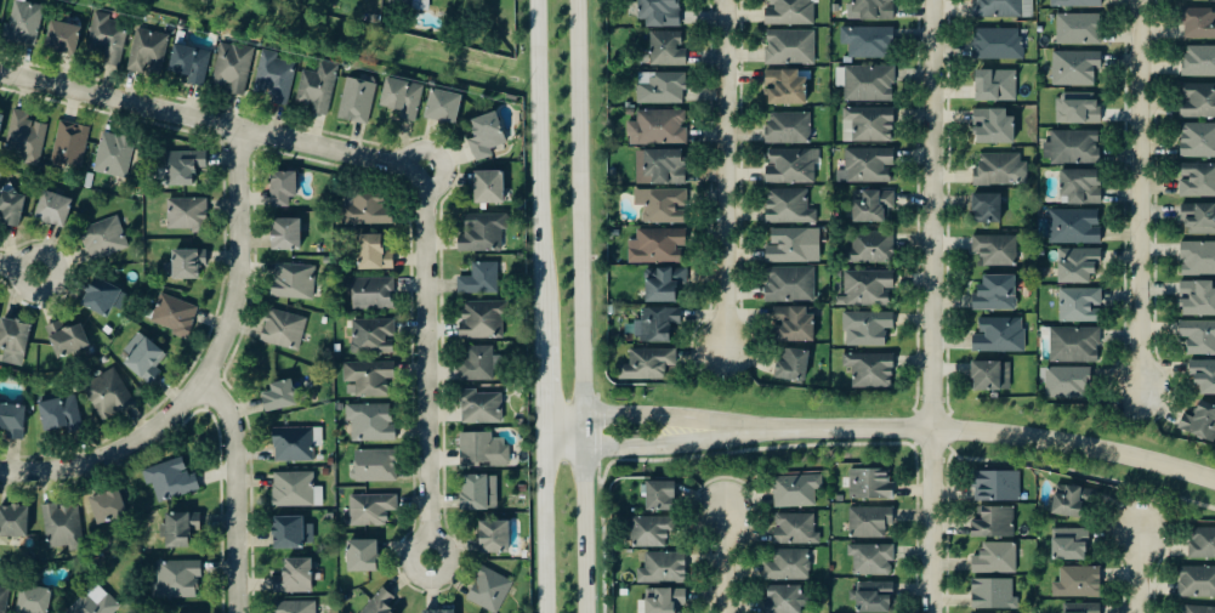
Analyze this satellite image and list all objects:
building: (1196, 0)
building: (1078, 2)
building: (999, 7)
building: (1028, 8)
building: (873, 10)
building: (657, 12)
building: (790, 12)
building: (25, 23)
building: (1198, 23)
building: (1081, 29)
building: (63, 39)
building: (108, 39)
building: (869, 42)
building: (999, 44)
building: (791, 46)
building: (148, 49)
building: (666, 49)
building: (1199, 59)
building: (191, 64)
building: (1078, 67)
building: (234, 68)
building: (276, 78)
building: (869, 84)
building: (995, 85)
building: (663, 87)
building: (784, 87)
building: (317, 89)
building: (402, 98)
building: (357, 101)
building: (1197, 102)
building: (442, 107)
building: (1078, 109)
building: (0, 119)
road: (212, 120)
building: (867, 125)
building: (787, 127)
building: (992, 127)
building: (659, 129)
building: (484, 137)
building: (24, 138)
building: (1196, 141)
building: (69, 146)
building: (1075, 148)
building: (113, 155)
building: (659, 166)
building: (789, 166)
building: (865, 166)
building: (182, 168)
building: (998, 170)
road: (536, 172)
road: (723, 174)
building: (1196, 180)
building: (488, 188)
building: (1080, 188)
building: (282, 189)
road: (1136, 194)
building: (325, 199)
building: (662, 205)
road: (579, 208)
building: (785, 208)
building: (870, 208)
building: (984, 209)
building: (10, 210)
building: (52, 210)
building: (367, 211)
building: (187, 215)
building: (1196, 220)
building: (1073, 227)
building: (482, 233)
building: (285, 234)
building: (103, 239)
building: (794, 246)
building: (868, 246)
building: (657, 248)
building: (992, 251)
building: (373, 255)
building: (1197, 260)
building: (186, 265)
building: (1077, 265)
road: (19, 268)
building: (479, 280)
building: (293, 282)
building: (790, 285)
building: (659, 288)
building: (868, 288)
building: (369, 294)
building: (994, 294)
building: (100, 299)
building: (1196, 300)
road: (933, 306)
building: (1079, 306)
building: (174, 317)
building: (482, 320)
building: (655, 327)
building: (789, 327)
building: (283, 330)
building: (864, 330)
building: (70, 336)
building: (999, 336)
building: (371, 337)
building: (1199, 337)
building: (12, 342)
building: (1075, 345)
building: (142, 359)
road: (427, 364)
building: (478, 364)
building: (648, 364)
road: (209, 367)
building: (789, 367)
building: (868, 371)
building: (986, 379)
building: (1199, 379)
building: (367, 380)
road: (539, 382)
building: (1068, 384)
building: (10, 391)
building: (107, 393)
building: (278, 396)
building: (479, 407)
building: (57, 410)
road: (665, 416)
road: (560, 418)
building: (12, 420)
building: (1199, 421)
building: (370, 422)
road: (539, 433)
road: (581, 433)
road: (984, 435)
building: (295, 443)
building: (482, 448)
road: (665, 448)
road: (561, 450)
building: (375, 465)
building: (169, 479)
building: (869, 484)
building: (997, 486)
road: (235, 490)
building: (295, 490)
building: (795, 490)
building: (478, 492)
building: (658, 495)
building: (1067, 500)
building: (106, 505)
building: (370, 510)
building: (18, 521)
building: (869, 522)
building: (993, 522)
building: (180, 528)
building: (795, 529)
building: (62, 532)
road: (540, 532)
road: (581, 532)
building: (651, 532)
building: (291, 533)
building: (493, 537)
building: (1202, 543)
building: (1068, 544)
building: (360, 555)
building: (995, 558)
building: (871, 560)
road: (722, 561)
building: (788, 566)
building: (662, 568)
road: (1132, 574)
building: (294, 577)
building: (176, 579)
building: (1197, 581)
building: (1078, 583)
building: (488, 590)
building: (993, 594)
building: (873, 597)
building: (2, 598)
building: (784, 598)
building: (32, 600)
building: (664, 600)
building: (380, 603)
building: (93, 605)
building: (294, 607)
building: (1080, 608)
building: (1197, 609)
building: (437, 612)

